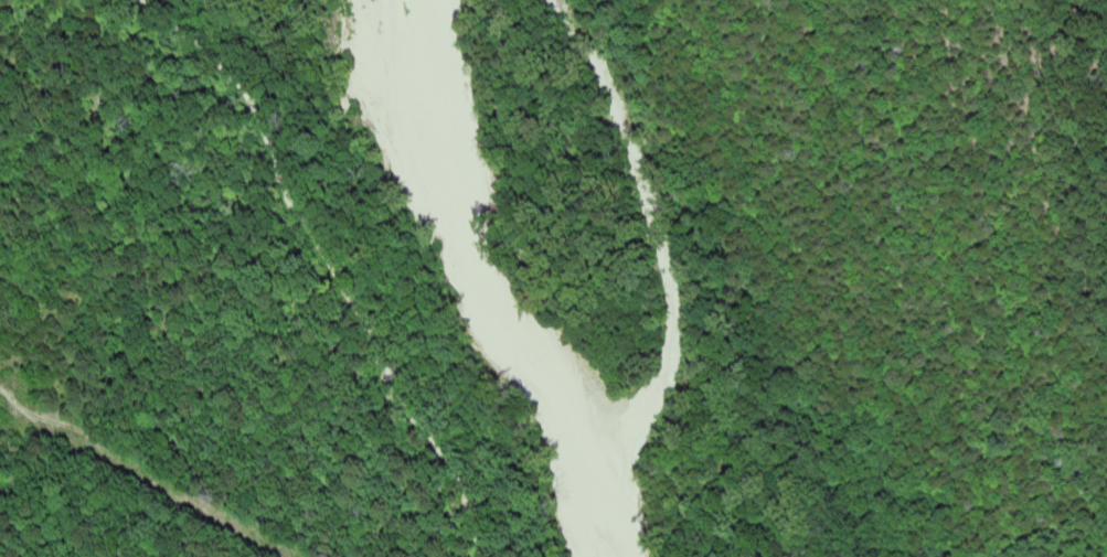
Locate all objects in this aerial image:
road: (339, 267)

